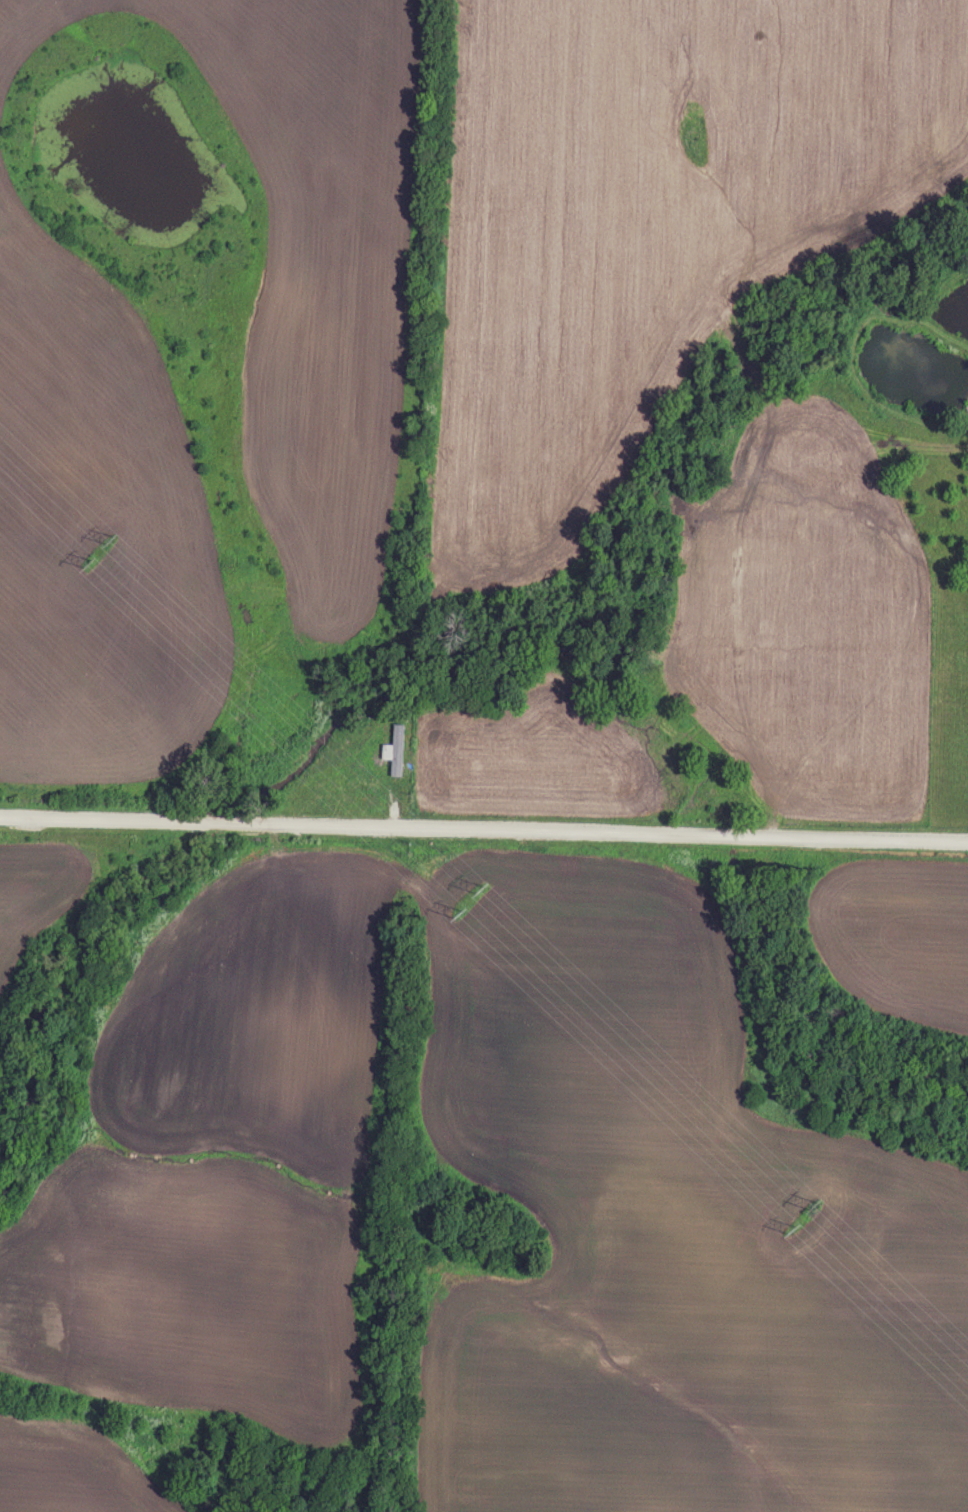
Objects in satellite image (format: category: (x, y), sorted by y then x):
power tower: (117, 530)
power tower: (93, 558)
building: (396, 750)
road: (484, 829)
power tower: (478, 887)
power tower: (457, 912)
power tower: (811, 1204)
power tower: (792, 1227)

